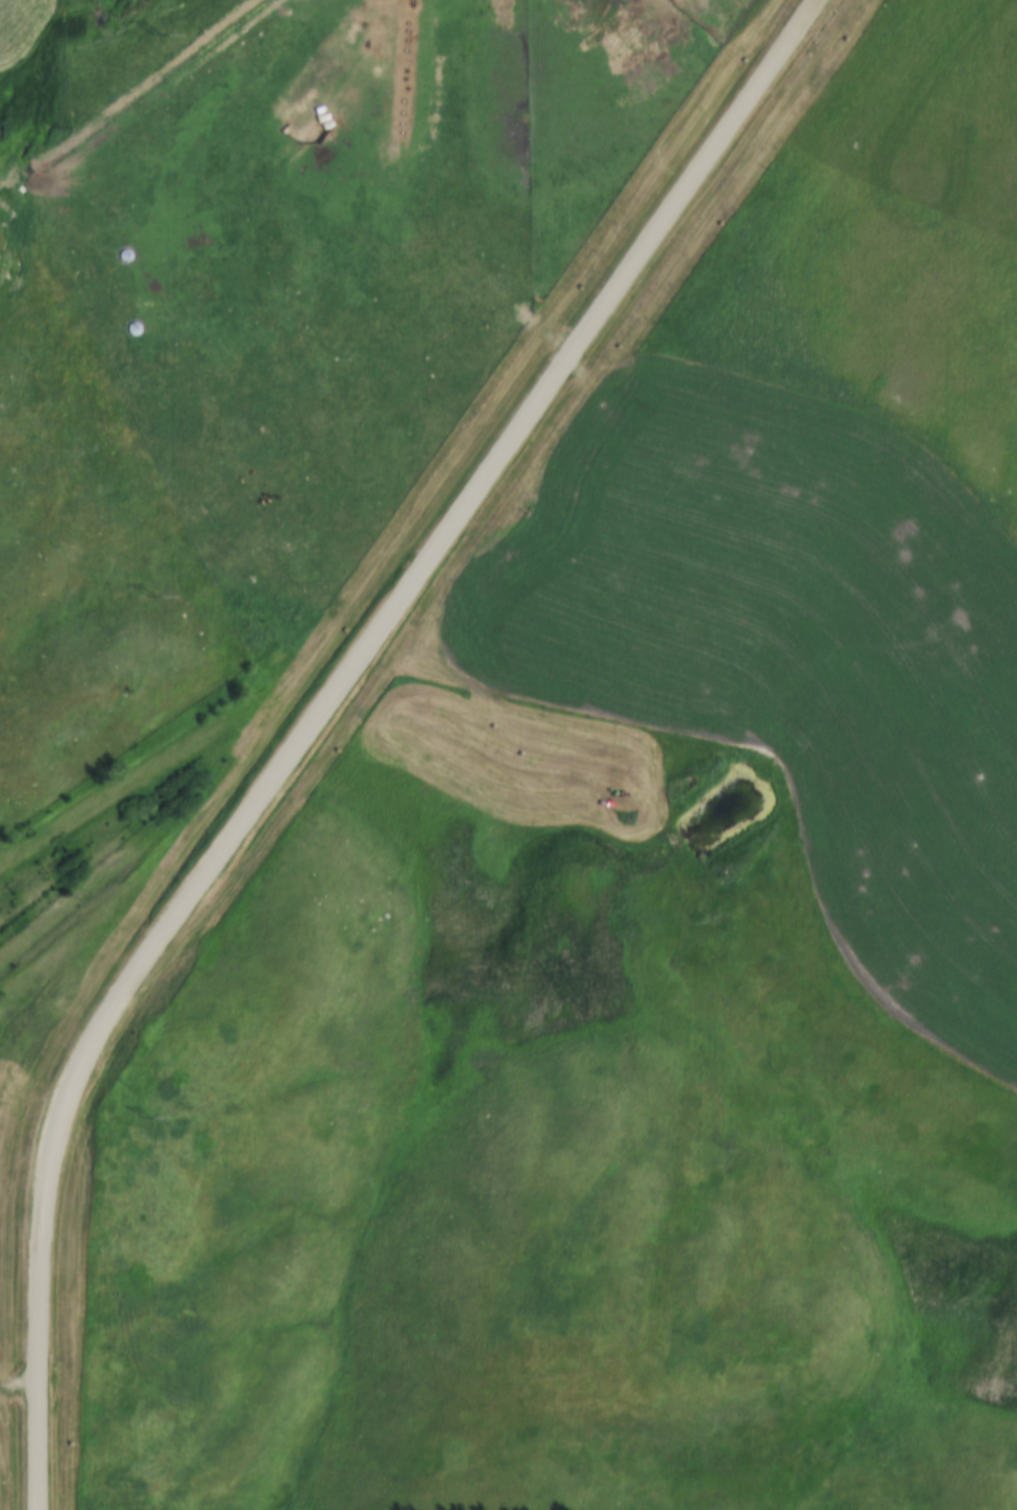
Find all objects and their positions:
power tower: (157, 35)
road: (515, 438)
power tower: (150, 597)
power tower: (148, 1120)
road: (48, 1170)

